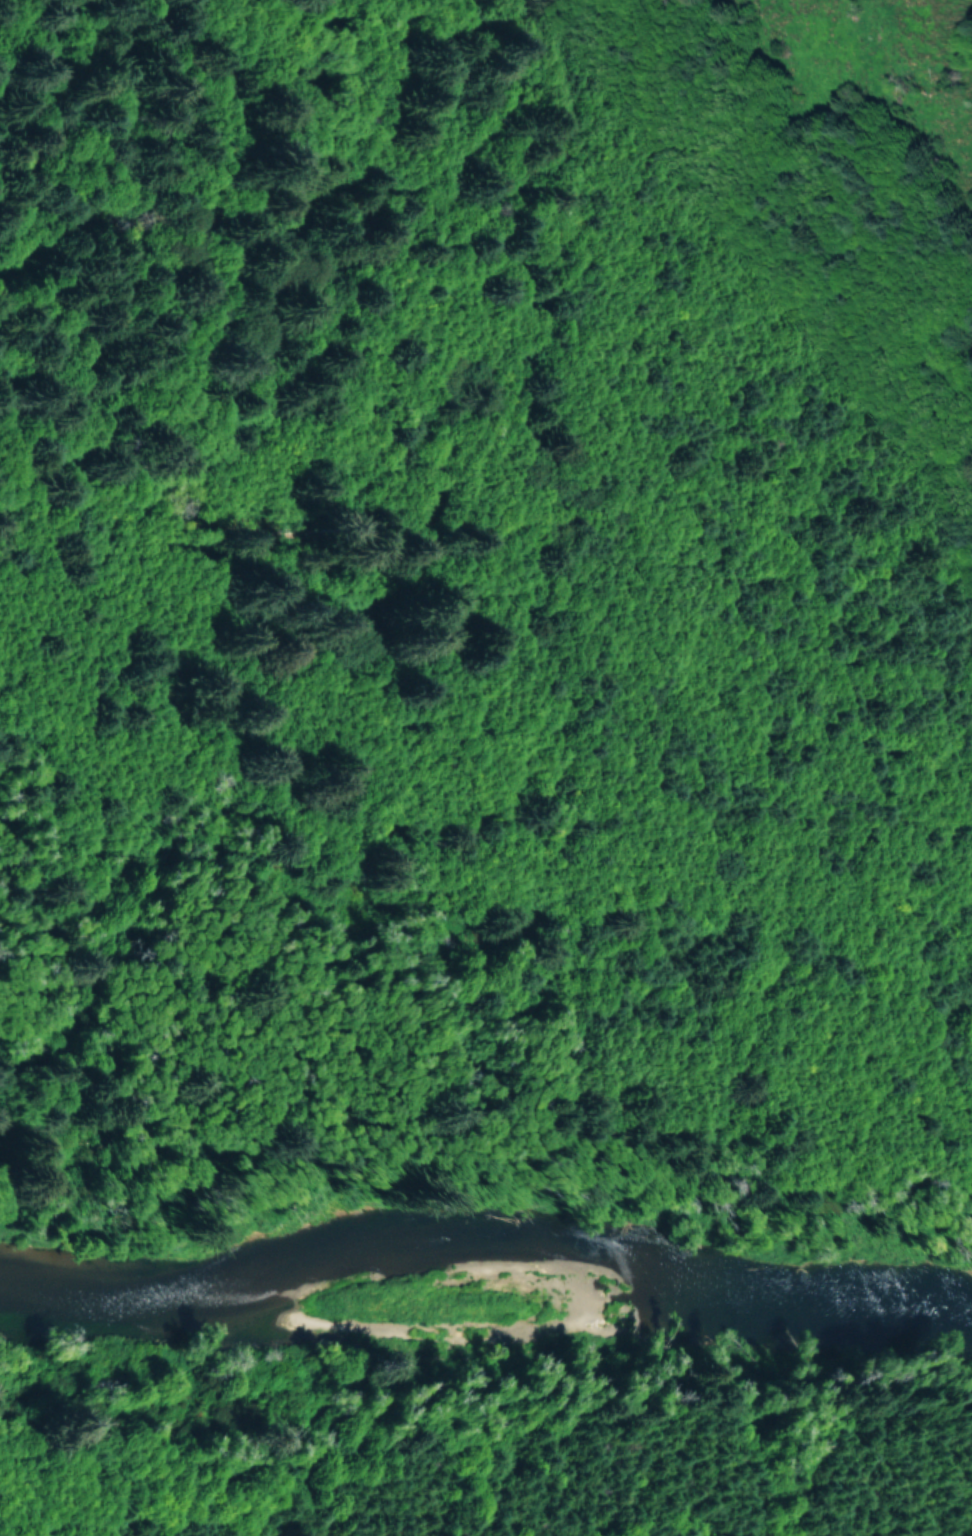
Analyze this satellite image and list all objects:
river: (470, 1245)
river: (959, 1308)

